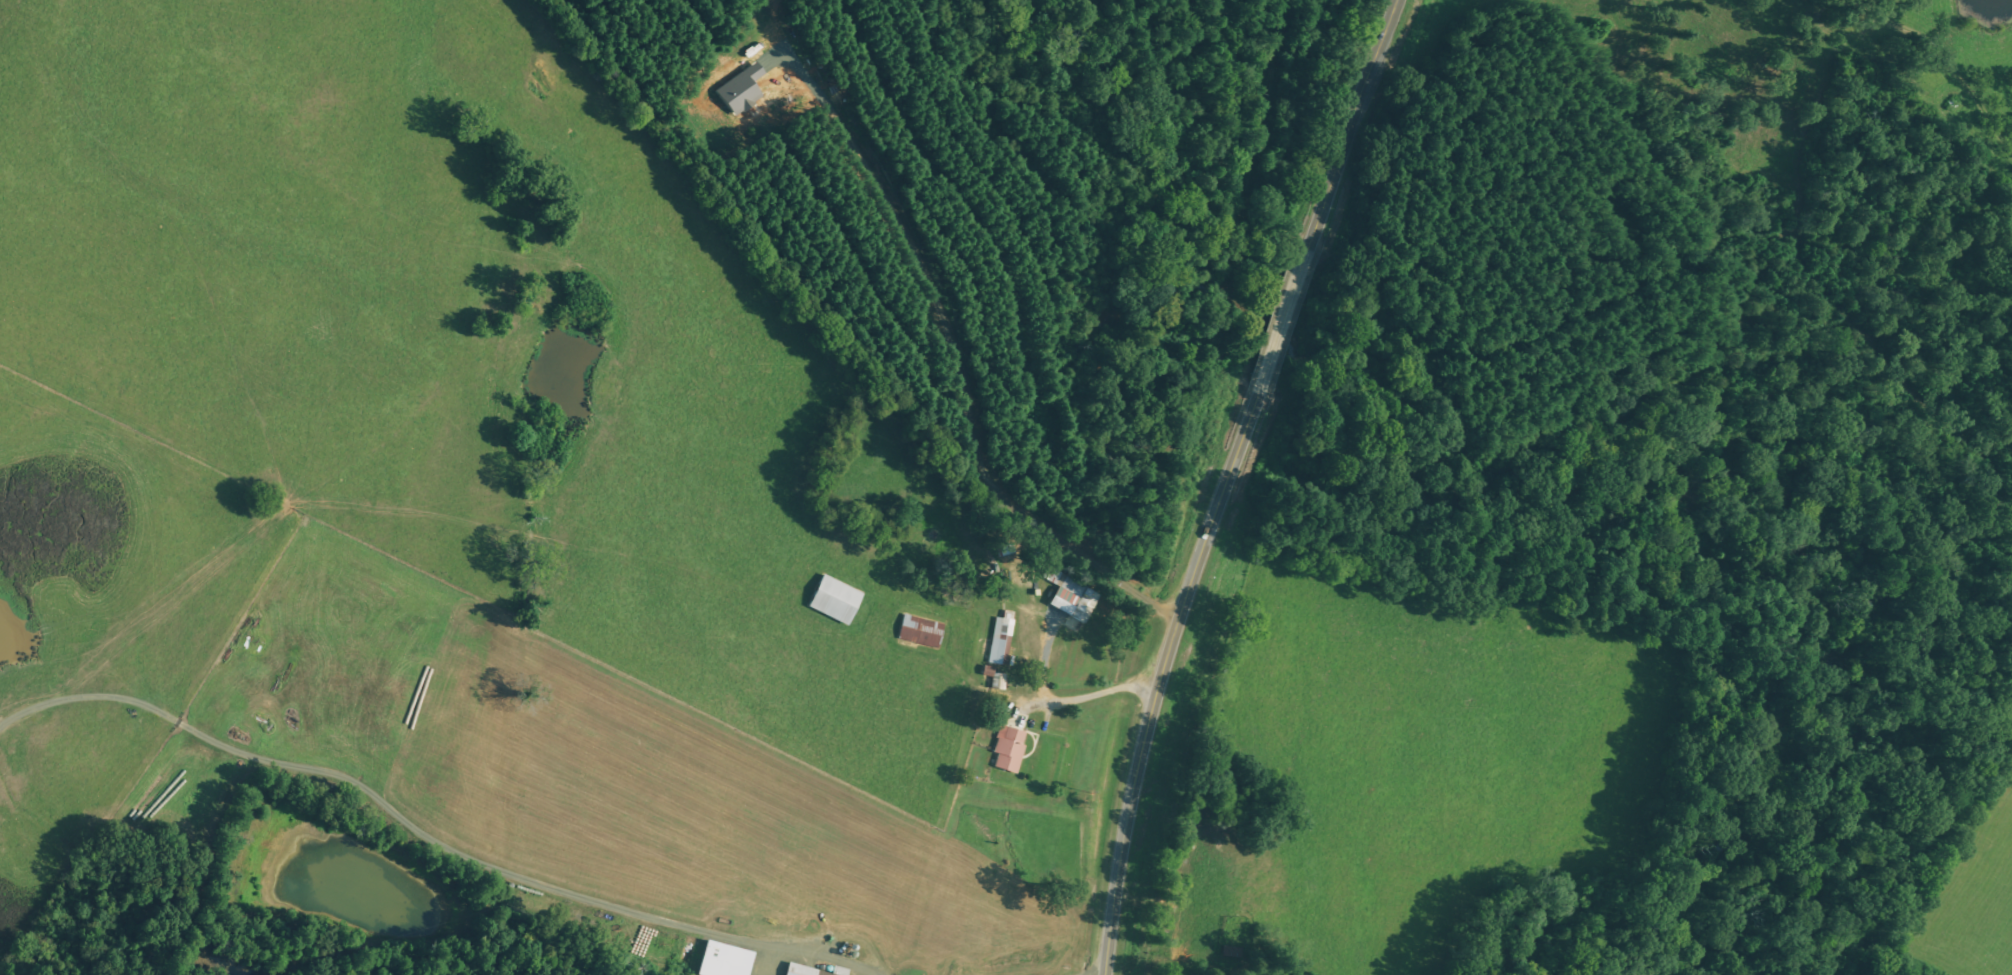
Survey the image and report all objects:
road: (1949, 56)
road: (1228, 479)
building: (1073, 597)
building: (837, 601)
building: (922, 632)
building: (1002, 640)
building: (1010, 750)
building: (726, 960)
building: (804, 970)

